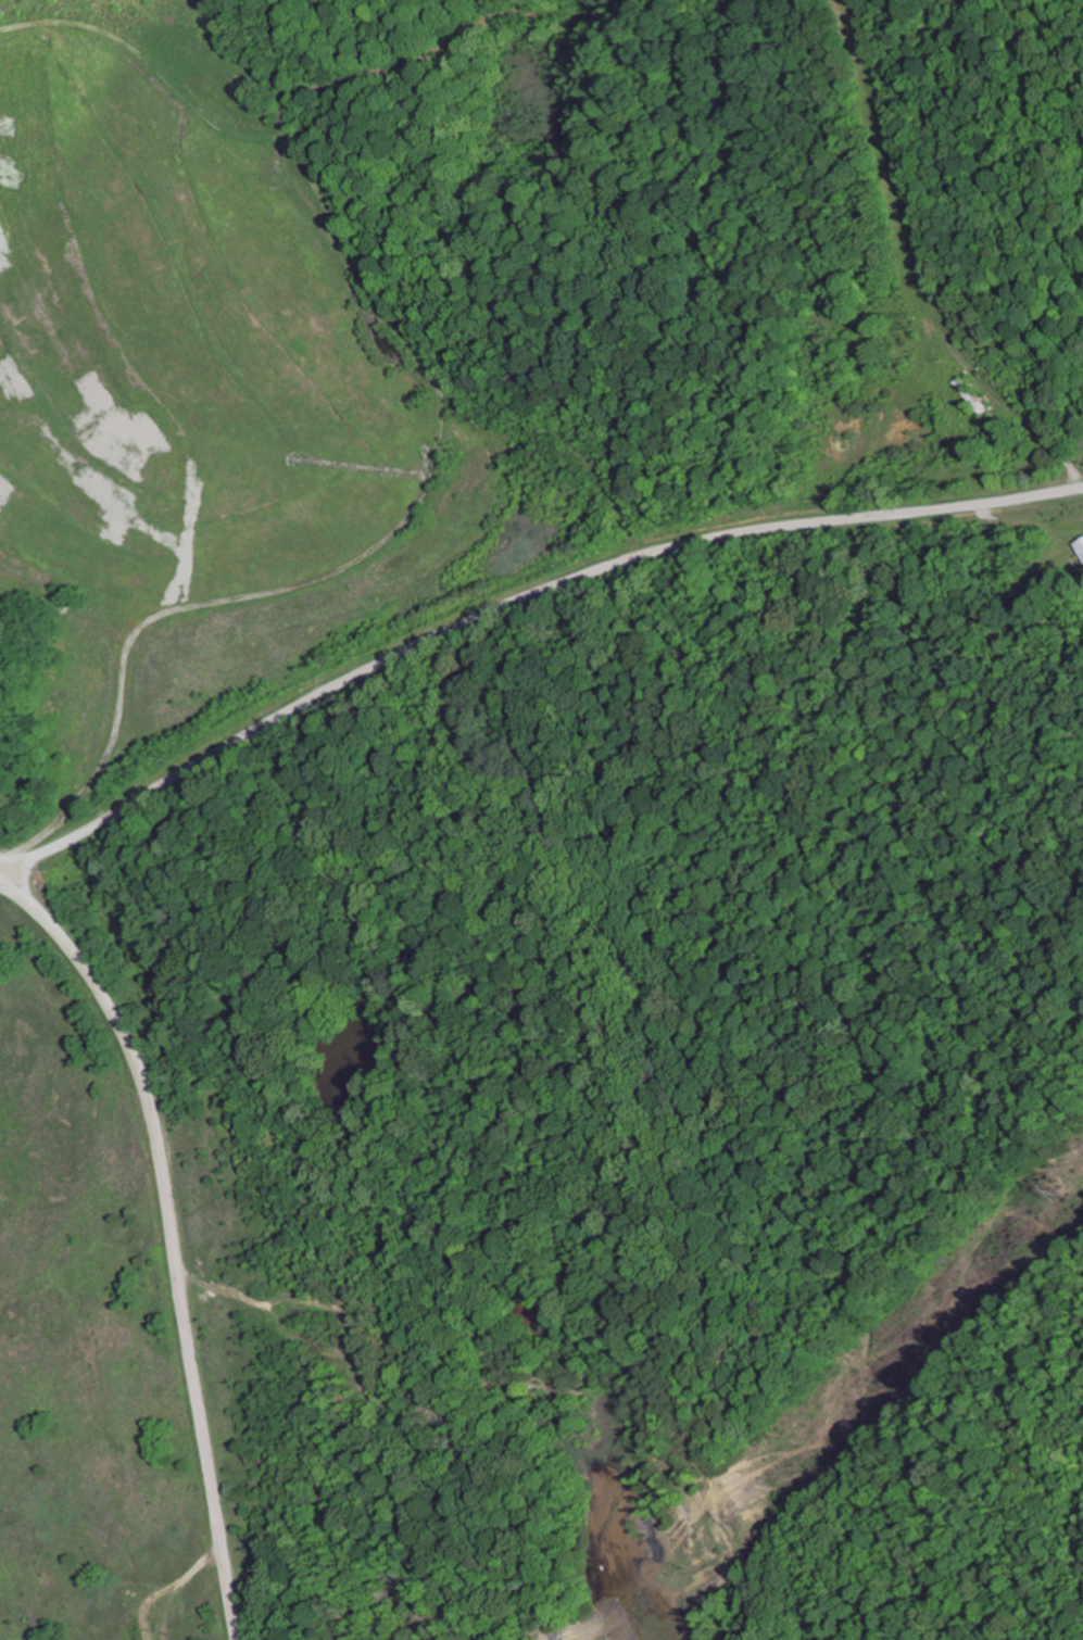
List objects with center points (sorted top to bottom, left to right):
road: (365, 337)
road: (513, 601)
road: (174, 1237)

